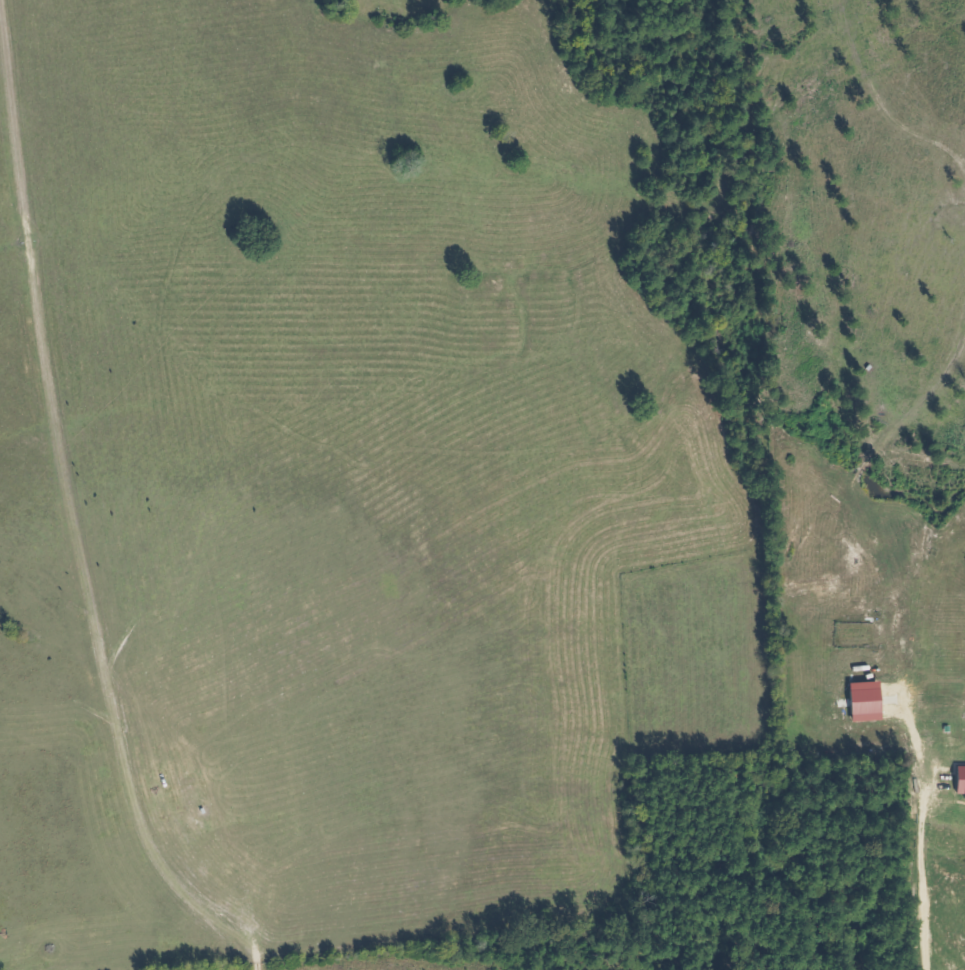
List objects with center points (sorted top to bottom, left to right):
road: (73, 504)

